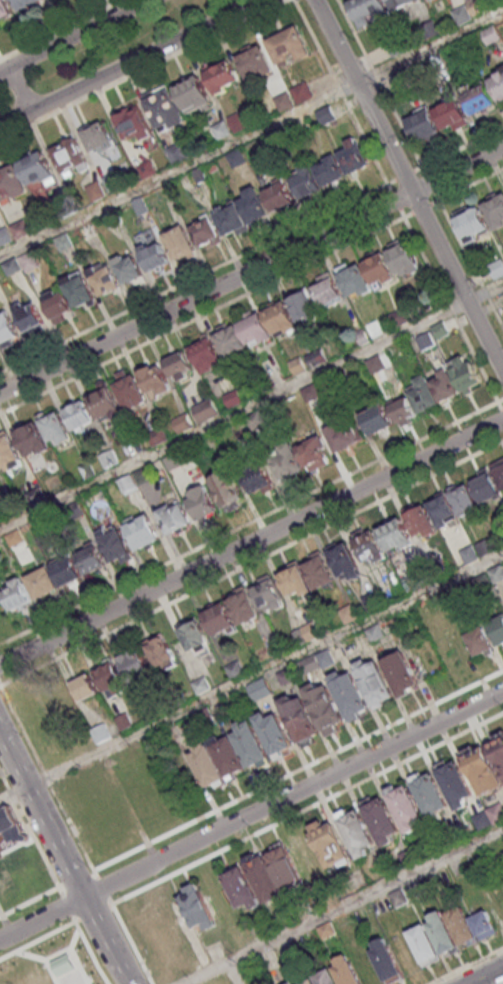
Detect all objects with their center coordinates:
building: (26, 3)
building: (400, 3)
building: (6, 10)
building: (368, 10)
road: (59, 28)
road: (72, 35)
building: (289, 44)
road: (429, 47)
building: (255, 61)
road: (128, 63)
road: (143, 68)
building: (221, 74)
building: (498, 85)
road: (20, 86)
building: (192, 92)
building: (478, 97)
building: (452, 115)
building: (133, 121)
road: (400, 123)
building: (423, 125)
building: (98, 137)
building: (68, 154)
building: (37, 168)
building: (331, 168)
road: (178, 170)
road: (405, 176)
building: (12, 182)
road: (431, 183)
road: (408, 187)
building: (278, 194)
road: (396, 201)
road: (422, 208)
building: (494, 209)
building: (242, 212)
building: (473, 223)
building: (21, 228)
building: (205, 232)
road: (455, 232)
road: (287, 233)
building: (180, 243)
building: (154, 256)
building: (404, 256)
building: (129, 268)
building: (379, 268)
road: (251, 270)
building: (104, 278)
building: (354, 280)
building: (79, 290)
building: (328, 292)
road: (484, 292)
building: (58, 305)
building: (303, 305)
building: (30, 316)
building: (280, 316)
building: (256, 328)
building: (7, 329)
building: (230, 341)
building: (205, 353)
building: (180, 366)
building: (153, 378)
road: (489, 384)
building: (438, 388)
building: (129, 390)
road: (27, 399)
road: (501, 401)
building: (105, 402)
road: (501, 406)
building: (206, 409)
road: (233, 415)
building: (81, 416)
building: (377, 418)
building: (343, 435)
building: (31, 437)
building: (211, 442)
building: (8, 451)
building: (301, 457)
building: (498, 471)
building: (258, 478)
building: (134, 480)
building: (485, 485)
building: (227, 490)
building: (201, 502)
building: (452, 503)
building: (174, 517)
building: (420, 521)
building: (141, 530)
building: (395, 535)
road: (251, 541)
building: (115, 544)
building: (370, 547)
building: (91, 558)
building: (343, 560)
road: (251, 562)
building: (67, 571)
building: (306, 575)
building: (42, 582)
building: (16, 593)
building: (268, 594)
building: (242, 605)
building: (219, 619)
building: (497, 629)
building: (193, 634)
building: (479, 641)
building: (162, 653)
building: (135, 665)
road: (264, 669)
building: (400, 671)
building: (111, 678)
building: (373, 680)
building: (83, 684)
building: (259, 688)
building: (349, 694)
building: (325, 706)
building: (300, 718)
building: (101, 732)
building: (274, 733)
building: (250, 745)
building: (498, 750)
building: (482, 768)
road: (298, 770)
road: (47, 776)
building: (454, 782)
road: (13, 793)
building: (430, 794)
building: (406, 806)
road: (308, 808)
road: (251, 814)
building: (382, 818)
building: (11, 827)
road: (29, 827)
building: (356, 831)
building: (329, 844)
road: (63, 859)
building: (262, 875)
road: (76, 878)
road: (102, 886)
road: (29, 901)
road: (65, 905)
road: (343, 906)
building: (197, 908)
road: (93, 913)
building: (460, 924)
building: (483, 924)
road: (68, 925)
road: (72, 931)
building: (442, 932)
road: (63, 942)
building: (423, 943)
road: (131, 944)
building: (161, 945)
building: (386, 959)
park: (52, 962)
road: (465, 965)
road: (64, 966)
building: (345, 971)
road: (233, 973)
road: (484, 975)
building: (326, 977)
building: (49, 981)
building: (291, 983)

